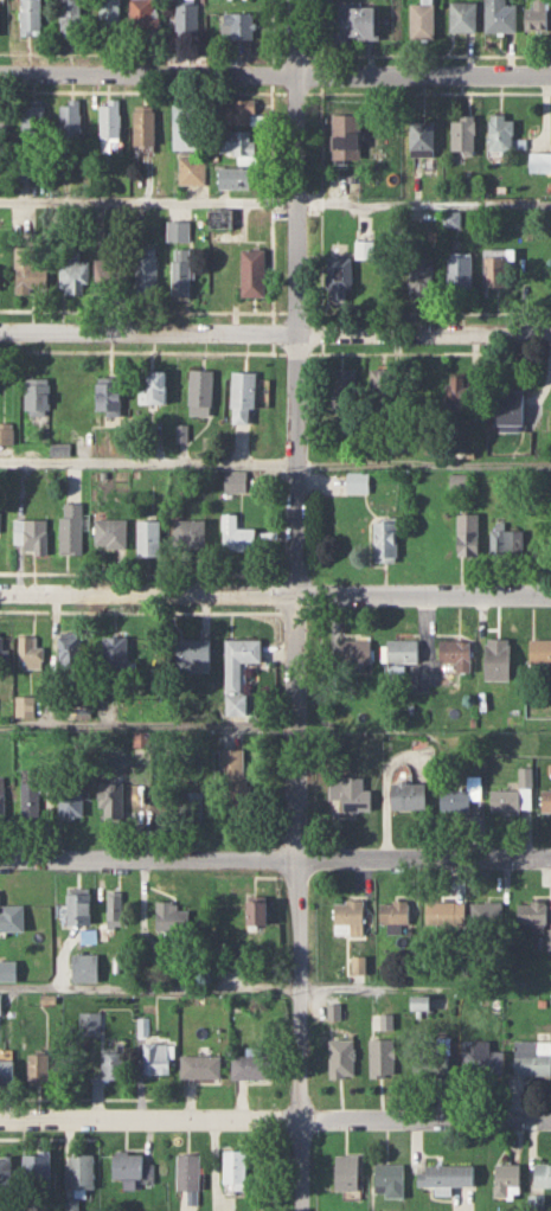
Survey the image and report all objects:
building: (462, 15)
building: (499, 15)
building: (537, 15)
building: (71, 17)
building: (143, 17)
building: (31, 18)
building: (110, 18)
building: (187, 19)
building: (422, 19)
building: (357, 21)
building: (238, 25)
road: (275, 73)
building: (237, 111)
building: (69, 120)
building: (32, 121)
building: (108, 123)
building: (143, 124)
building: (4, 127)
building: (188, 128)
building: (500, 130)
building: (463, 132)
building: (347, 136)
building: (421, 137)
building: (239, 143)
building: (540, 161)
building: (1, 166)
building: (191, 169)
building: (236, 178)
road: (275, 203)
building: (220, 217)
building: (177, 230)
building: (365, 249)
building: (31, 269)
building: (461, 270)
building: (496, 270)
building: (254, 271)
building: (71, 273)
building: (146, 275)
building: (109, 276)
building: (180, 280)
building: (341, 280)
road: (275, 331)
building: (346, 387)
building: (384, 389)
building: (201, 392)
building: (459, 392)
building: (37, 396)
building: (109, 397)
building: (245, 397)
building: (508, 406)
building: (4, 434)
road: (147, 459)
road: (423, 460)
building: (235, 481)
building: (358, 481)
building: (73, 527)
building: (113, 532)
building: (469, 533)
building: (33, 534)
building: (192, 534)
building: (237, 534)
building: (150, 538)
building: (386, 540)
building: (507, 543)
road: (275, 592)
road: (295, 605)
building: (4, 649)
building: (70, 649)
building: (31, 651)
building: (355, 651)
building: (403, 651)
building: (540, 651)
building: (117, 653)
building: (457, 653)
building: (193, 655)
building: (500, 659)
building: (238, 671)
building: (26, 707)
road: (148, 724)
building: (236, 777)
building: (351, 793)
building: (513, 794)
building: (409, 795)
building: (2, 797)
building: (31, 799)
building: (459, 799)
building: (113, 800)
building: (545, 800)
building: (72, 802)
building: (193, 806)
road: (275, 857)
building: (115, 905)
building: (79, 906)
building: (260, 909)
building: (393, 911)
building: (531, 911)
building: (444, 912)
building: (485, 912)
building: (12, 915)
building: (173, 915)
building: (348, 916)
building: (85, 966)
building: (8, 969)
road: (275, 983)
building: (0, 1001)
building: (421, 1001)
building: (89, 1020)
building: (532, 1056)
building: (156, 1057)
building: (483, 1057)
building: (433, 1059)
building: (113, 1064)
building: (200, 1065)
building: (251, 1065)
building: (38, 1068)
building: (7, 1069)
road: (275, 1116)
building: (128, 1165)
building: (235, 1167)
building: (38, 1170)
building: (79, 1170)
building: (187, 1171)
building: (348, 1171)
building: (5, 1173)
building: (542, 1174)
building: (446, 1175)
building: (391, 1178)
building: (507, 1179)

